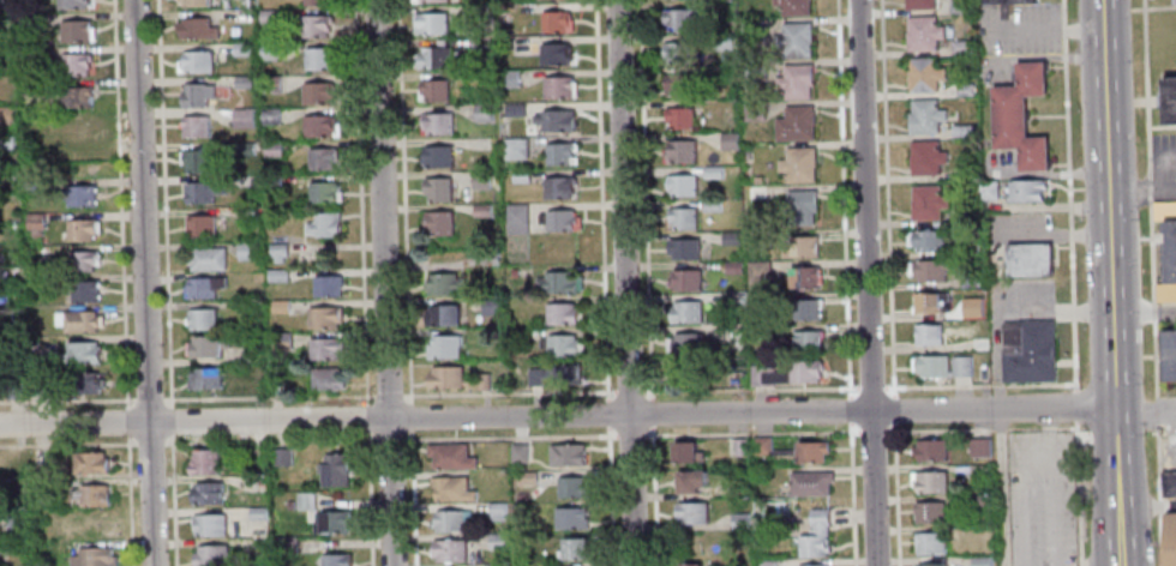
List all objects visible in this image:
building: (427, 0)
building: (4, 1)
building: (317, 1)
building: (1010, 1)
building: (196, 2)
building: (1174, 2)
building: (76, 4)
building: (919, 5)
building: (960, 6)
building: (793, 7)
building: (269, 16)
building: (680, 19)
building: (29, 23)
building: (431, 23)
building: (556, 23)
building: (318, 25)
building: (198, 28)
building: (79, 30)
building: (751, 30)
building: (923, 35)
building: (794, 41)
building: (722, 43)
building: (481, 46)
building: (242, 47)
building: (960, 47)
building: (271, 49)
building: (30, 53)
building: (678, 53)
building: (554, 55)
building: (4, 56)
building: (322, 58)
building: (434, 58)
building: (196, 60)
building: (77, 64)
building: (754, 71)
building: (924, 76)
building: (509, 79)
building: (1032, 79)
building: (246, 80)
building: (797, 82)
building: (271, 83)
building: (678, 85)
building: (558, 88)
road: (1146, 88)
building: (31, 89)
building: (964, 90)
building: (319, 91)
building: (434, 91)
building: (198, 95)
building: (77, 96)
building: (1170, 100)
building: (514, 110)
building: (754, 112)
building: (272, 113)
building: (482, 113)
building: (6, 116)
building: (244, 116)
building: (679, 118)
building: (925, 118)
building: (1009, 118)
building: (42, 120)
building: (556, 121)
building: (437, 124)
building: (322, 125)
building: (197, 126)
building: (794, 126)
road: (1162, 126)
building: (77, 130)
building: (962, 131)
building: (730, 141)
building: (6, 143)
building: (246, 146)
building: (274, 147)
building: (516, 149)
building: (682, 152)
building: (559, 155)
building: (745, 155)
building: (1033, 155)
building: (437, 157)
building: (324, 158)
building: (925, 158)
building: (196, 161)
parking lot: (1164, 164)
building: (798, 165)
building: (10, 171)
building: (713, 173)
building: (965, 173)
building: (520, 176)
building: (274, 179)
building: (480, 180)
building: (757, 180)
building: (682, 186)
building: (32, 187)
building: (558, 187)
road: (1150, 188)
building: (205, 191)
building: (438, 191)
building: (989, 191)
building: (325, 192)
road: (1141, 192)
building: (755, 193)
building: (1026, 193)
building: (82, 194)
road: (1069, 194)
road: (844, 197)
road: (887, 198)
road: (119, 203)
road: (164, 203)
building: (926, 204)
building: (712, 206)
building: (798, 207)
building: (1165, 210)
building: (481, 211)
building: (962, 217)
building: (684, 218)
building: (516, 219)
building: (34, 222)
building: (325, 222)
building: (560, 222)
building: (202, 224)
building: (438, 224)
building: (83, 228)
building: (731, 239)
building: (926, 241)
building: (804, 247)
building: (40, 249)
building: (247, 249)
building: (280, 249)
building: (684, 249)
building: (968, 251)
building: (1171, 251)
building: (208, 258)
building: (1, 260)
building: (86, 260)
building: (1028, 261)
building: (733, 269)
building: (931, 271)
building: (514, 272)
building: (278, 273)
building: (758, 273)
building: (805, 278)
building: (685, 281)
building: (968, 282)
road: (1110, 282)
road: (143, 283)
road: (364, 283)
road: (383, 283)
road: (406, 283)
building: (560, 283)
road: (604, 283)
road: (624, 283)
road: (648, 283)
road: (866, 283)
building: (328, 284)
building: (444, 284)
building: (205, 285)
building: (85, 290)
building: (1166, 291)
building: (734, 300)
building: (929, 302)
building: (281, 305)
building: (250, 306)
building: (490, 306)
building: (806, 311)
road: (1166, 312)
building: (686, 313)
road: (1134, 313)
building: (560, 314)
building: (326, 315)
building: (444, 315)
building: (8, 317)
building: (202, 318)
building: (79, 320)
building: (758, 330)
building: (928, 335)
building: (518, 336)
building: (283, 343)
building: (808, 343)
building: (688, 344)
building: (979, 344)
building: (5, 345)
building: (208, 345)
building: (328, 347)
building: (563, 347)
building: (444, 348)
building: (253, 349)
building: (84, 351)
building: (1171, 354)
building: (1031, 355)
building: (960, 366)
building: (932, 367)
building: (686, 372)
building: (786, 374)
building: (556, 375)
building: (205, 377)
building: (329, 378)
building: (455, 379)
building: (90, 381)
road: (1156, 384)
road: (979, 385)
building: (38, 387)
road: (871, 387)
building: (13, 390)
road: (510, 392)
road: (149, 398)
road: (67, 399)
road: (1075, 405)
road: (1145, 408)
road: (850, 409)
road: (893, 410)
road: (557, 416)
road: (170, 420)
road: (127, 421)
road: (940, 429)
road: (1036, 429)
road: (872, 430)
road: (751, 433)
road: (630, 435)
road: (389, 440)
road: (149, 441)
road: (68, 444)
building: (762, 446)
building: (736, 447)
building: (979, 447)
parking lot: (1166, 448)
building: (684, 451)
building: (931, 451)
building: (810, 452)
building: (517, 453)
building: (566, 454)
building: (449, 456)
building: (280, 458)
building: (91, 462)
building: (202, 462)
building: (335, 470)
building: (526, 478)
building: (690, 480)
building: (808, 482)
building: (931, 482)
building: (1171, 483)
building: (571, 487)
road: (1002, 487)
building: (450, 488)
building: (738, 489)
road: (852, 493)
road: (1079, 493)
building: (91, 494)
building: (206, 494)
road: (896, 494)
building: (522, 496)
road: (172, 499)
parking lot: (1040, 499)
road: (130, 500)
building: (305, 501)
building: (980, 501)
building: (289, 505)
building: (517, 508)
building: (496, 512)
building: (690, 513)
building: (929, 513)
building: (257, 514)
building: (18, 518)
building: (569, 518)
building: (450, 520)
building: (335, 522)
building: (739, 522)
building: (209, 526)
building: (814, 536)
building: (1170, 541)
building: (497, 542)
building: (284, 544)
building: (930, 544)
building: (572, 548)
building: (448, 550)
building: (94, 556)
building: (209, 556)
building: (335, 561)
building: (979, 561)
building: (690, 564)
building: (766, 564)
building: (931, 564)
building: (816, 565)

